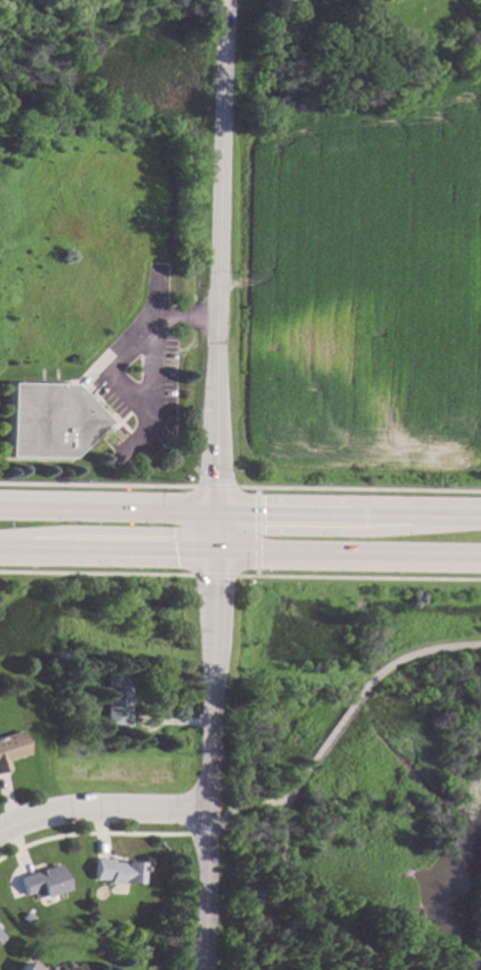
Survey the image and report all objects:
road: (220, 253)
crop: (353, 292)
road: (116, 365)
building: (49, 420)
road: (107, 505)
traffic signals: (215, 507)
road: (348, 510)
road: (111, 530)
road: (341, 531)
road: (213, 532)
road: (105, 555)
traffic signals: (211, 557)
road: (346, 558)
road: (415, 654)
building: (118, 700)
road: (330, 735)
building: (10, 747)
road: (206, 763)
park: (348, 772)
road: (244, 808)
road: (101, 811)
road: (213, 832)
road: (196, 833)
building: (115, 871)
building: (39, 882)
river: (446, 884)
road: (294, 893)
building: (25, 966)

